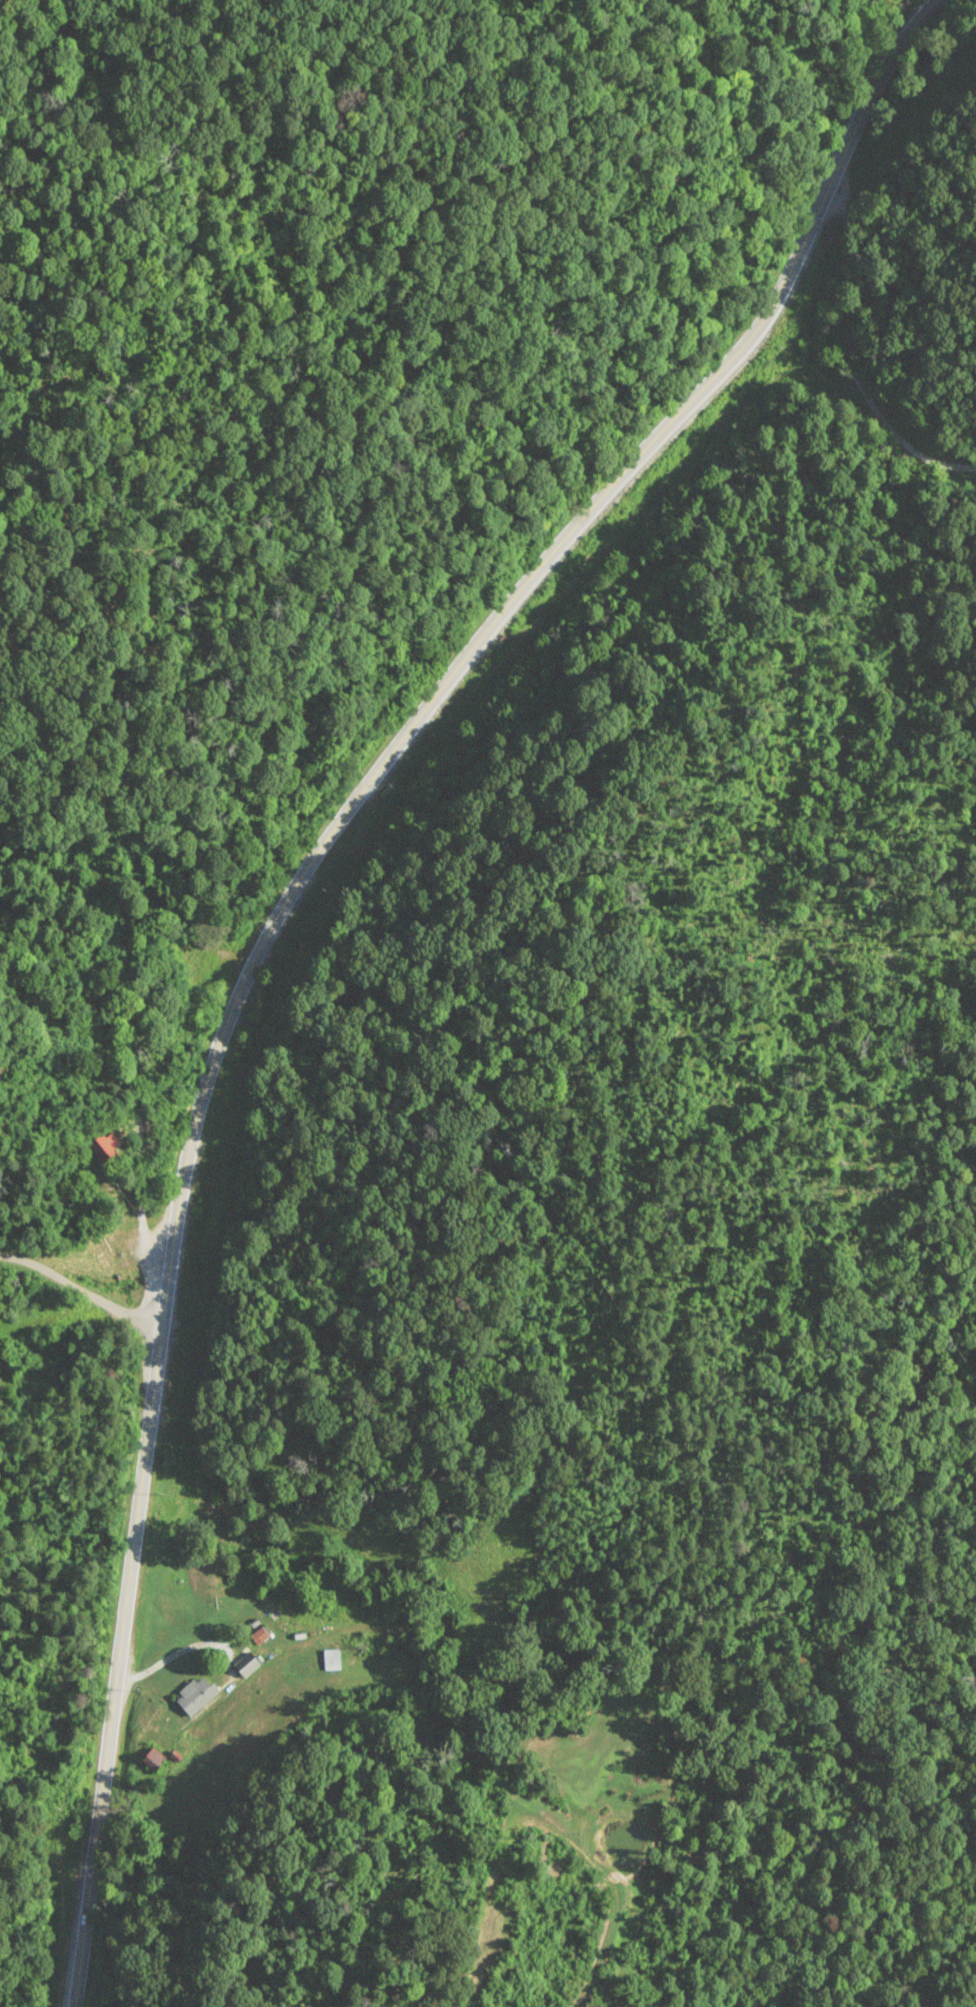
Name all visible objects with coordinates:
road: (282, 905)
building: (101, 1149)
road: (81, 1290)
building: (330, 1661)
building: (243, 1665)
building: (191, 1697)
building: (150, 1761)

